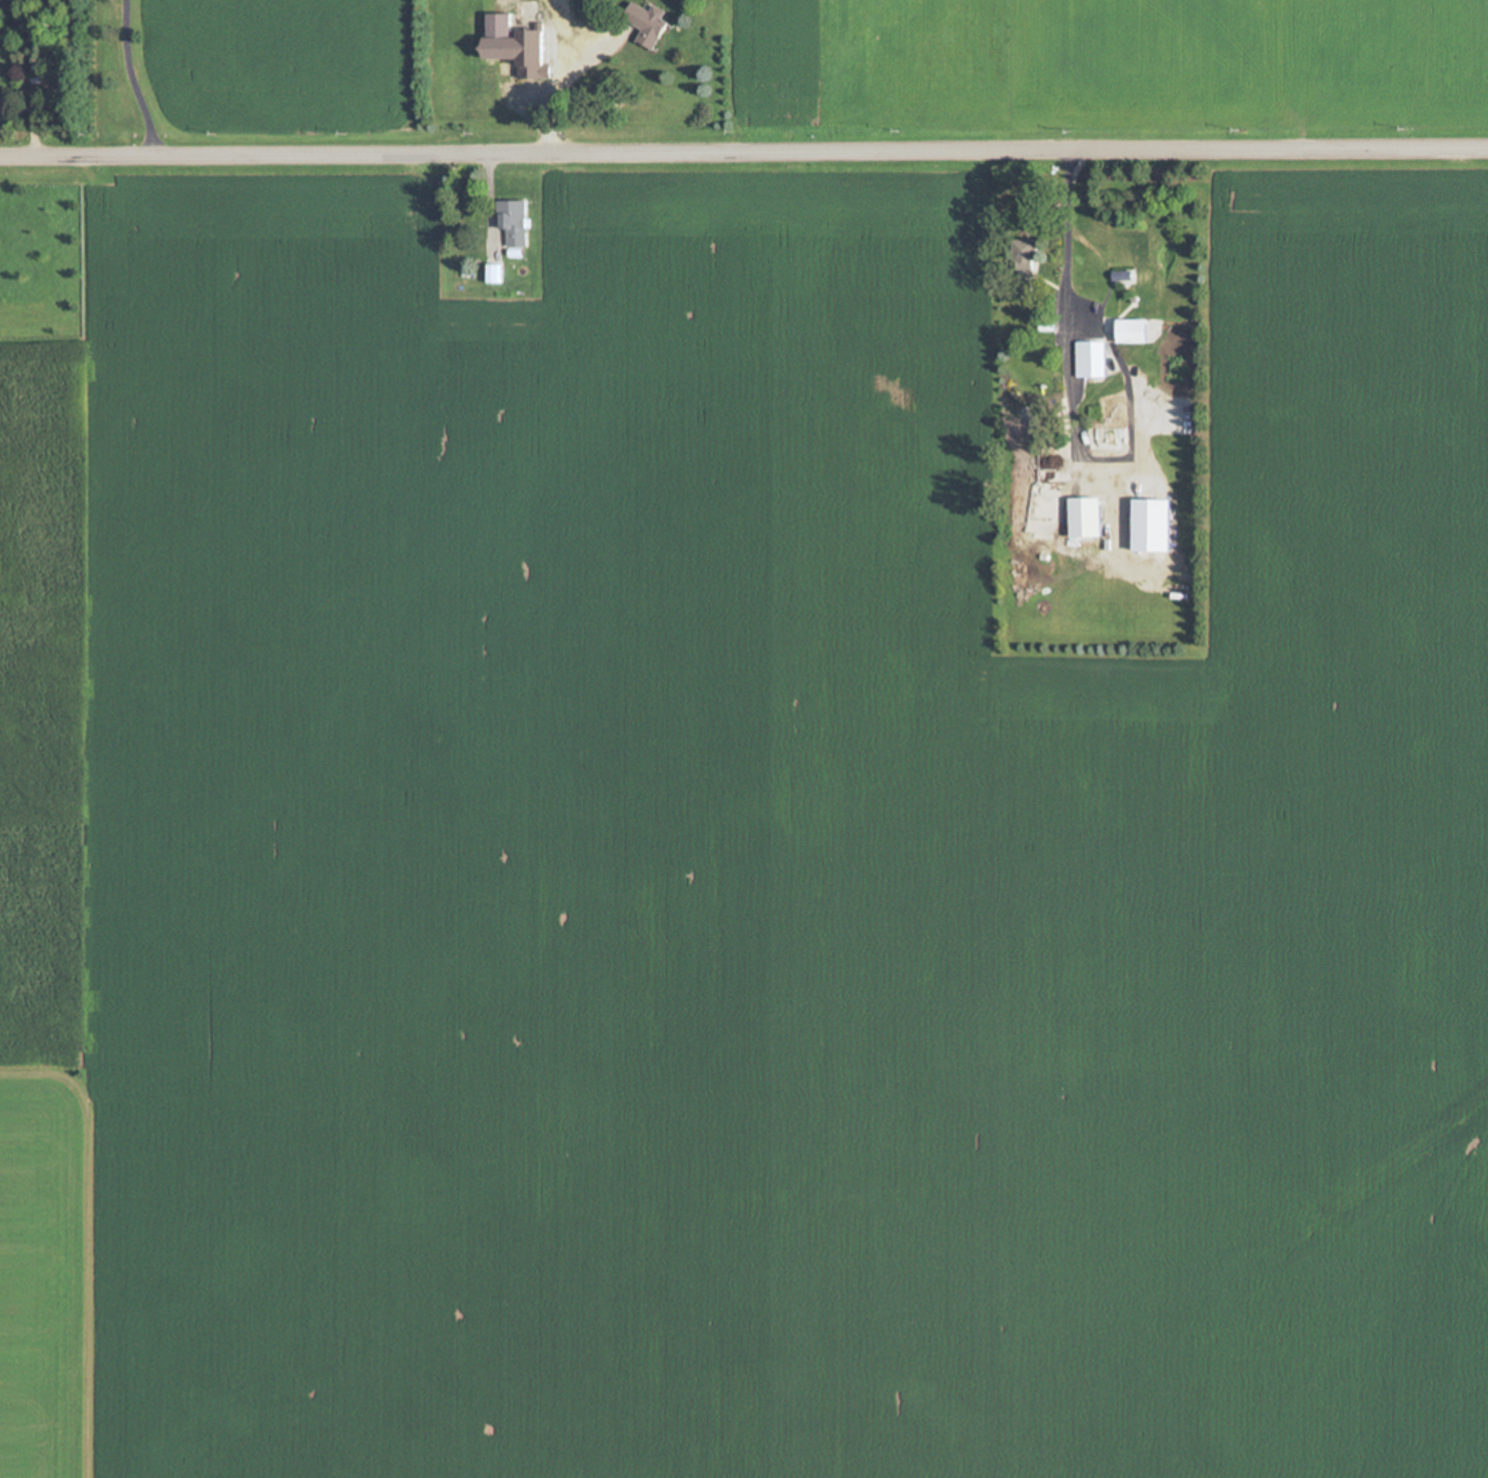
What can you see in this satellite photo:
building: (647, 23)
building: (516, 45)
road: (123, 80)
building: (3, 105)
road: (744, 153)
building: (514, 224)
building: (1027, 261)
building: (1131, 330)
building: (1093, 359)
building: (1104, 439)
building: (1085, 518)

